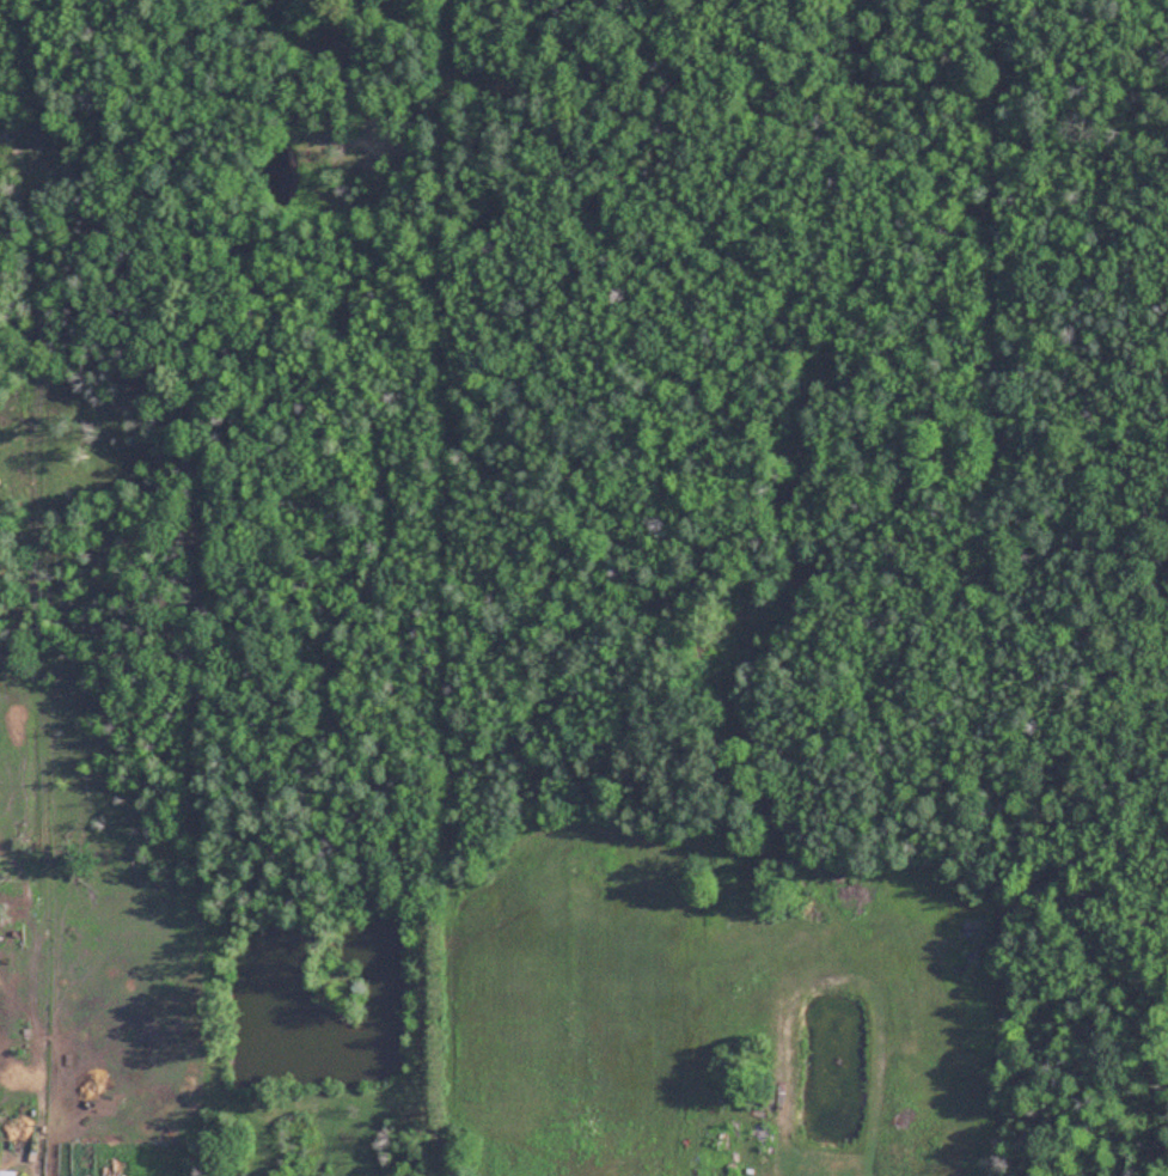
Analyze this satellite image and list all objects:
building: (7, 1172)

